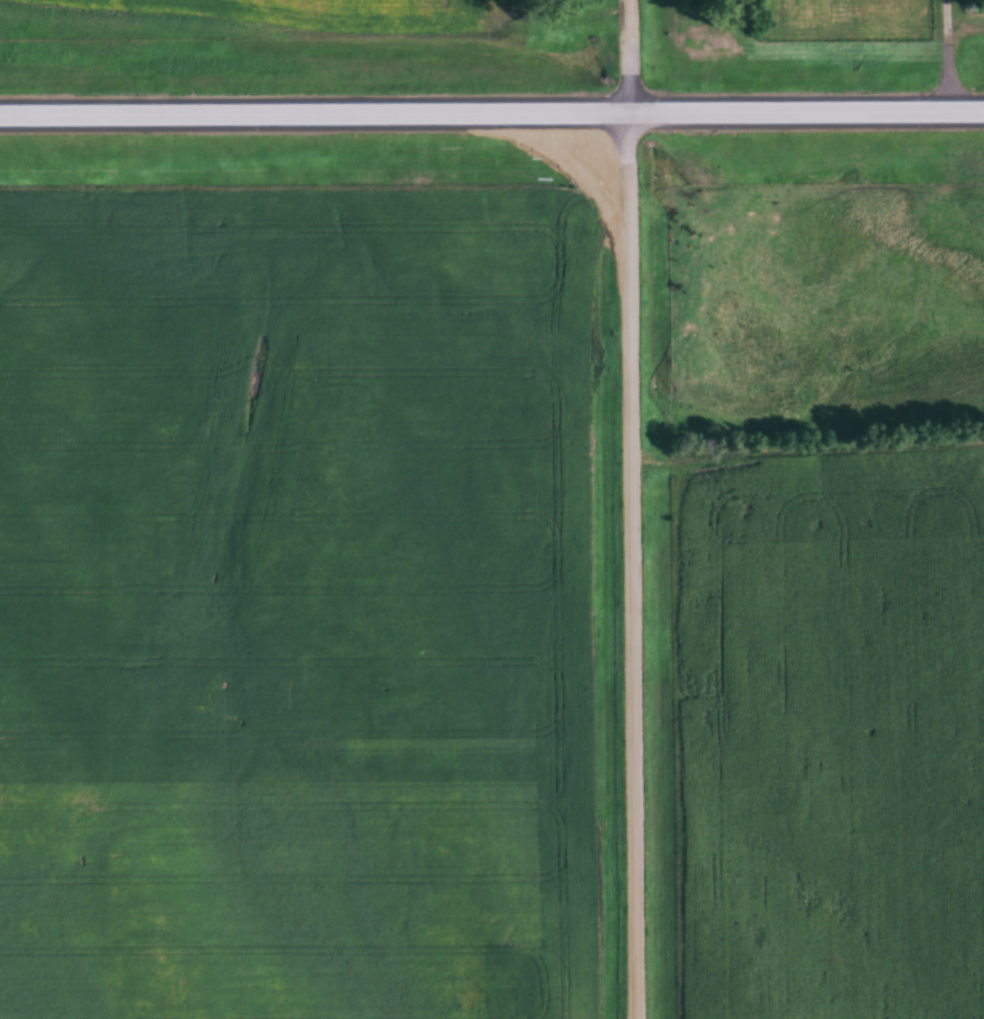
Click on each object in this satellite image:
road: (949, 57)
road: (492, 111)
road: (631, 509)

